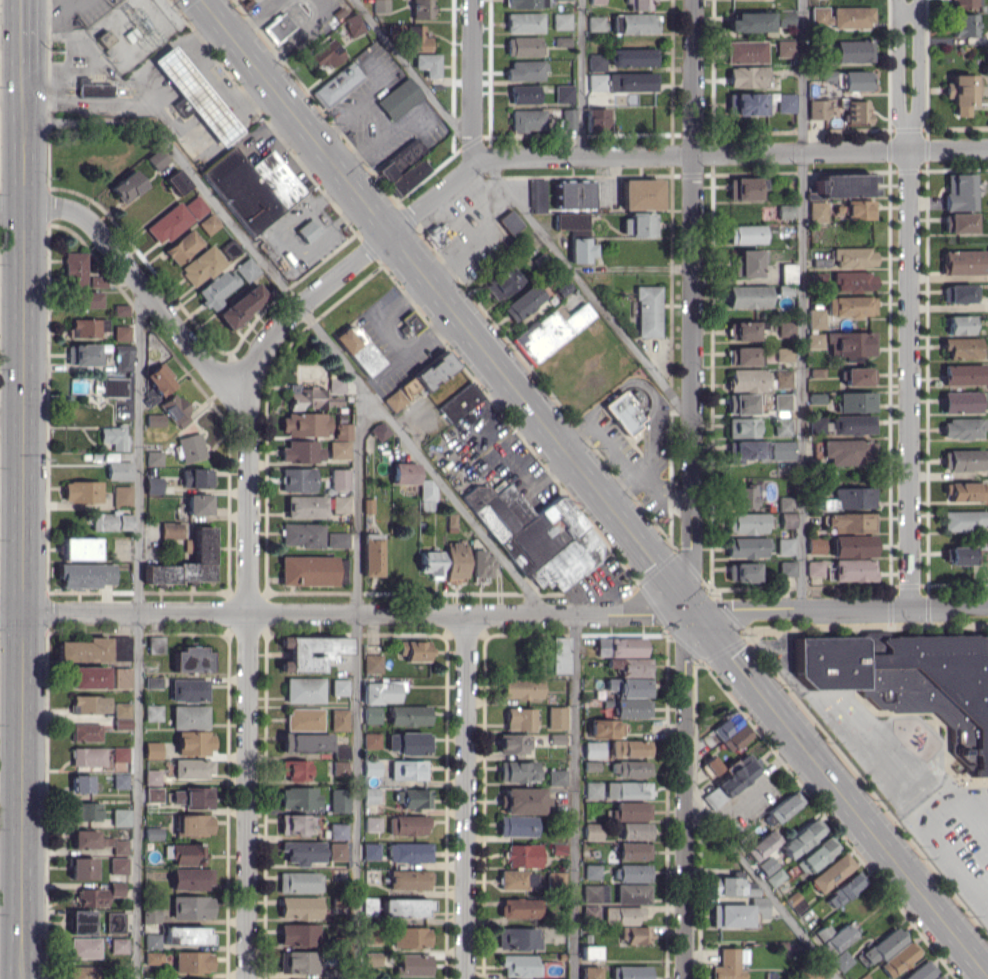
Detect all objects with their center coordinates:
road: (55, 1)
building: (525, 3)
building: (963, 3)
building: (638, 4)
building: (379, 5)
building: (421, 9)
parking lot: (74, 10)
road: (251, 15)
building: (841, 16)
building: (784, 18)
building: (561, 20)
building: (749, 21)
building: (523, 22)
building: (595, 23)
building: (633, 23)
building: (352, 24)
building: (963, 24)
building: (277, 27)
road: (295, 35)
road: (25, 38)
building: (416, 38)
building: (522, 46)
building: (785, 47)
building: (853, 50)
building: (745, 51)
building: (325, 54)
building: (631, 57)
building: (596, 61)
building: (427, 64)
building: (525, 69)
road: (413, 71)
road: (897, 74)
road: (916, 74)
road: (693, 76)
building: (746, 76)
road: (582, 77)
road: (472, 79)
building: (856, 80)
building: (596, 81)
building: (631, 81)
building: (336, 85)
building: (92, 88)
building: (960, 92)
building: (563, 93)
building: (523, 94)
building: (195, 95)
building: (398, 98)
building: (786, 102)
building: (746, 103)
building: (817, 108)
building: (567, 118)
building: (596, 119)
building: (526, 120)
road: (24, 141)
road: (733, 151)
building: (156, 158)
building: (403, 167)
building: (176, 181)
building: (841, 185)
building: (127, 186)
building: (252, 187)
building: (744, 188)
building: (957, 191)
building: (640, 193)
road: (435, 194)
building: (536, 194)
building: (572, 194)
building: (195, 206)
road: (12, 207)
building: (858, 209)
building: (784, 211)
building: (816, 211)
building: (509, 221)
building: (168, 222)
building: (957, 222)
building: (208, 223)
building: (571, 223)
building: (638, 224)
building: (305, 230)
building: (745, 233)
building: (182, 246)
building: (580, 249)
building: (987, 254)
building: (853, 257)
building: (747, 262)
building: (962, 262)
building: (202, 265)
building: (74, 268)
building: (246, 269)
building: (787, 272)
building: (98, 281)
building: (852, 281)
building: (502, 282)
road: (146, 286)
road: (585, 287)
building: (215, 288)
building: (959, 292)
building: (747, 296)
building: (87, 299)
building: (522, 302)
road: (801, 304)
building: (241, 305)
building: (849, 305)
road: (300, 306)
building: (120, 309)
building: (647, 311)
road: (309, 318)
building: (815, 318)
building: (408, 323)
building: (959, 324)
building: (86, 327)
building: (785, 328)
building: (743, 330)
building: (550, 331)
building: (120, 332)
building: (814, 339)
building: (850, 343)
building: (960, 347)
building: (359, 349)
building: (82, 354)
building: (783, 354)
building: (741, 356)
building: (122, 357)
building: (433, 370)
building: (962, 374)
building: (856, 376)
building: (159, 378)
building: (782, 378)
road: (908, 378)
building: (745, 379)
building: (336, 385)
building: (114, 387)
building: (310, 398)
building: (394, 399)
building: (782, 401)
building: (855, 401)
building: (959, 401)
building: (458, 402)
building: (740, 403)
building: (175, 409)
building: (623, 412)
building: (154, 420)
building: (818, 423)
building: (305, 424)
building: (852, 424)
building: (781, 426)
building: (740, 427)
building: (961, 428)
building: (379, 430)
building: (342, 431)
building: (113, 436)
building: (191, 447)
building: (338, 449)
building: (747, 450)
building: (781, 450)
building: (301, 451)
building: (846, 451)
building: (154, 458)
building: (962, 459)
building: (119, 470)
building: (404, 473)
building: (196, 477)
building: (339, 478)
building: (297, 479)
building: (153, 484)
building: (81, 491)
road: (593, 491)
building: (964, 491)
building: (426, 494)
building: (121, 495)
building: (742, 496)
building: (340, 503)
building: (785, 503)
building: (199, 504)
building: (305, 506)
road: (246, 508)
building: (786, 519)
building: (964, 519)
building: (110, 521)
building: (850, 522)
building: (745, 523)
building: (171, 530)
building: (301, 534)
building: (535, 534)
building: (336, 539)
building: (202, 545)
building: (815, 545)
building: (852, 545)
building: (784, 546)
building: (80, 548)
building: (371, 554)
building: (956, 555)
building: (455, 560)
building: (430, 563)
building: (482, 563)
road: (688, 565)
building: (814, 567)
building: (786, 568)
building: (852, 569)
building: (307, 570)
building: (741, 571)
building: (84, 574)
road: (22, 592)
traffic signals: (688, 612)
road: (494, 613)
road: (138, 629)
building: (155, 644)
building: (620, 646)
building: (83, 650)
building: (413, 650)
building: (309, 652)
building: (557, 655)
building: (191, 659)
building: (372, 663)
building: (630, 666)
building: (87, 677)
building: (121, 677)
building: (910, 680)
road: (357, 681)
building: (153, 682)
building: (339, 686)
building: (629, 686)
building: (520, 688)
building: (304, 689)
building: (188, 690)
building: (380, 691)
building: (88, 704)
building: (629, 707)
building: (153, 712)
building: (371, 714)
building: (121, 715)
building: (408, 715)
building: (189, 716)
building: (556, 717)
building: (304, 718)
building: (519, 718)
building: (339, 719)
building: (725, 725)
building: (605, 728)
building: (85, 732)
building: (735, 738)
building: (371, 740)
building: (194, 742)
building: (304, 742)
building: (408, 742)
building: (512, 743)
building: (629, 747)
building: (593, 749)
building: (152, 750)
building: (341, 751)
building: (119, 753)
building: (87, 756)
building: (711, 764)
building: (339, 767)
building: (370, 767)
building: (193, 768)
building: (629, 768)
building: (407, 769)
building: (295, 770)
building: (517, 771)
building: (556, 776)
building: (151, 777)
building: (119, 780)
building: (729, 781)
building: (80, 783)
building: (592, 789)
building: (626, 789)
building: (153, 794)
road: (247, 795)
building: (370, 795)
road: (465, 796)
road: (575, 796)
building: (193, 797)
building: (298, 797)
building: (413, 797)
building: (339, 800)
building: (522, 800)
building: (784, 806)
building: (84, 810)
building: (630, 810)
building: (120, 816)
building: (295, 823)
building: (372, 823)
building: (193, 824)
building: (407, 825)
building: (516, 825)
building: (634, 830)
building: (337, 831)
building: (592, 831)
road: (986, 831)
building: (152, 832)
building: (801, 837)
road: (933, 837)
building: (84, 838)
building: (761, 845)
building: (119, 846)
building: (633, 850)
building: (302, 851)
building: (336, 851)
building: (370, 851)
building: (409, 852)
building: (188, 854)
building: (815, 854)
building: (523, 855)
building: (118, 865)
building: (81, 868)
building: (770, 870)
building: (591, 871)
building: (630, 872)
building: (830, 872)
building: (555, 877)
building: (191, 878)
building: (408, 879)
building: (517, 879)
building: (299, 881)
road: (763, 884)
building: (732, 886)
building: (116, 888)
building: (844, 889)
building: (594, 893)
building: (632, 893)
building: (91, 897)
building: (795, 901)
building: (191, 906)
building: (368, 906)
building: (299, 907)
building: (403, 907)
building: (520, 907)
building: (590, 910)
building: (738, 912)
building: (621, 914)
building: (150, 915)
building: (80, 921)
building: (114, 921)
building: (299, 934)
building: (634, 934)
building: (185, 935)
building: (410, 937)
building: (833, 937)
building: (518, 938)
building: (152, 941)
building: (118, 945)
building: (881, 946)
building: (83, 947)
building: (589, 952)
building: (153, 957)
building: (371, 958)
building: (899, 958)
building: (840, 960)
building: (192, 961)
building: (299, 961)
building: (413, 964)
building: (728, 964)
building: (519, 966)
building: (920, 971)
building: (83, 972)
building: (590, 972)
building: (630, 972)
building: (808, 976)
building: (863, 976)
building: (936, 977)
building: (558, 978)

